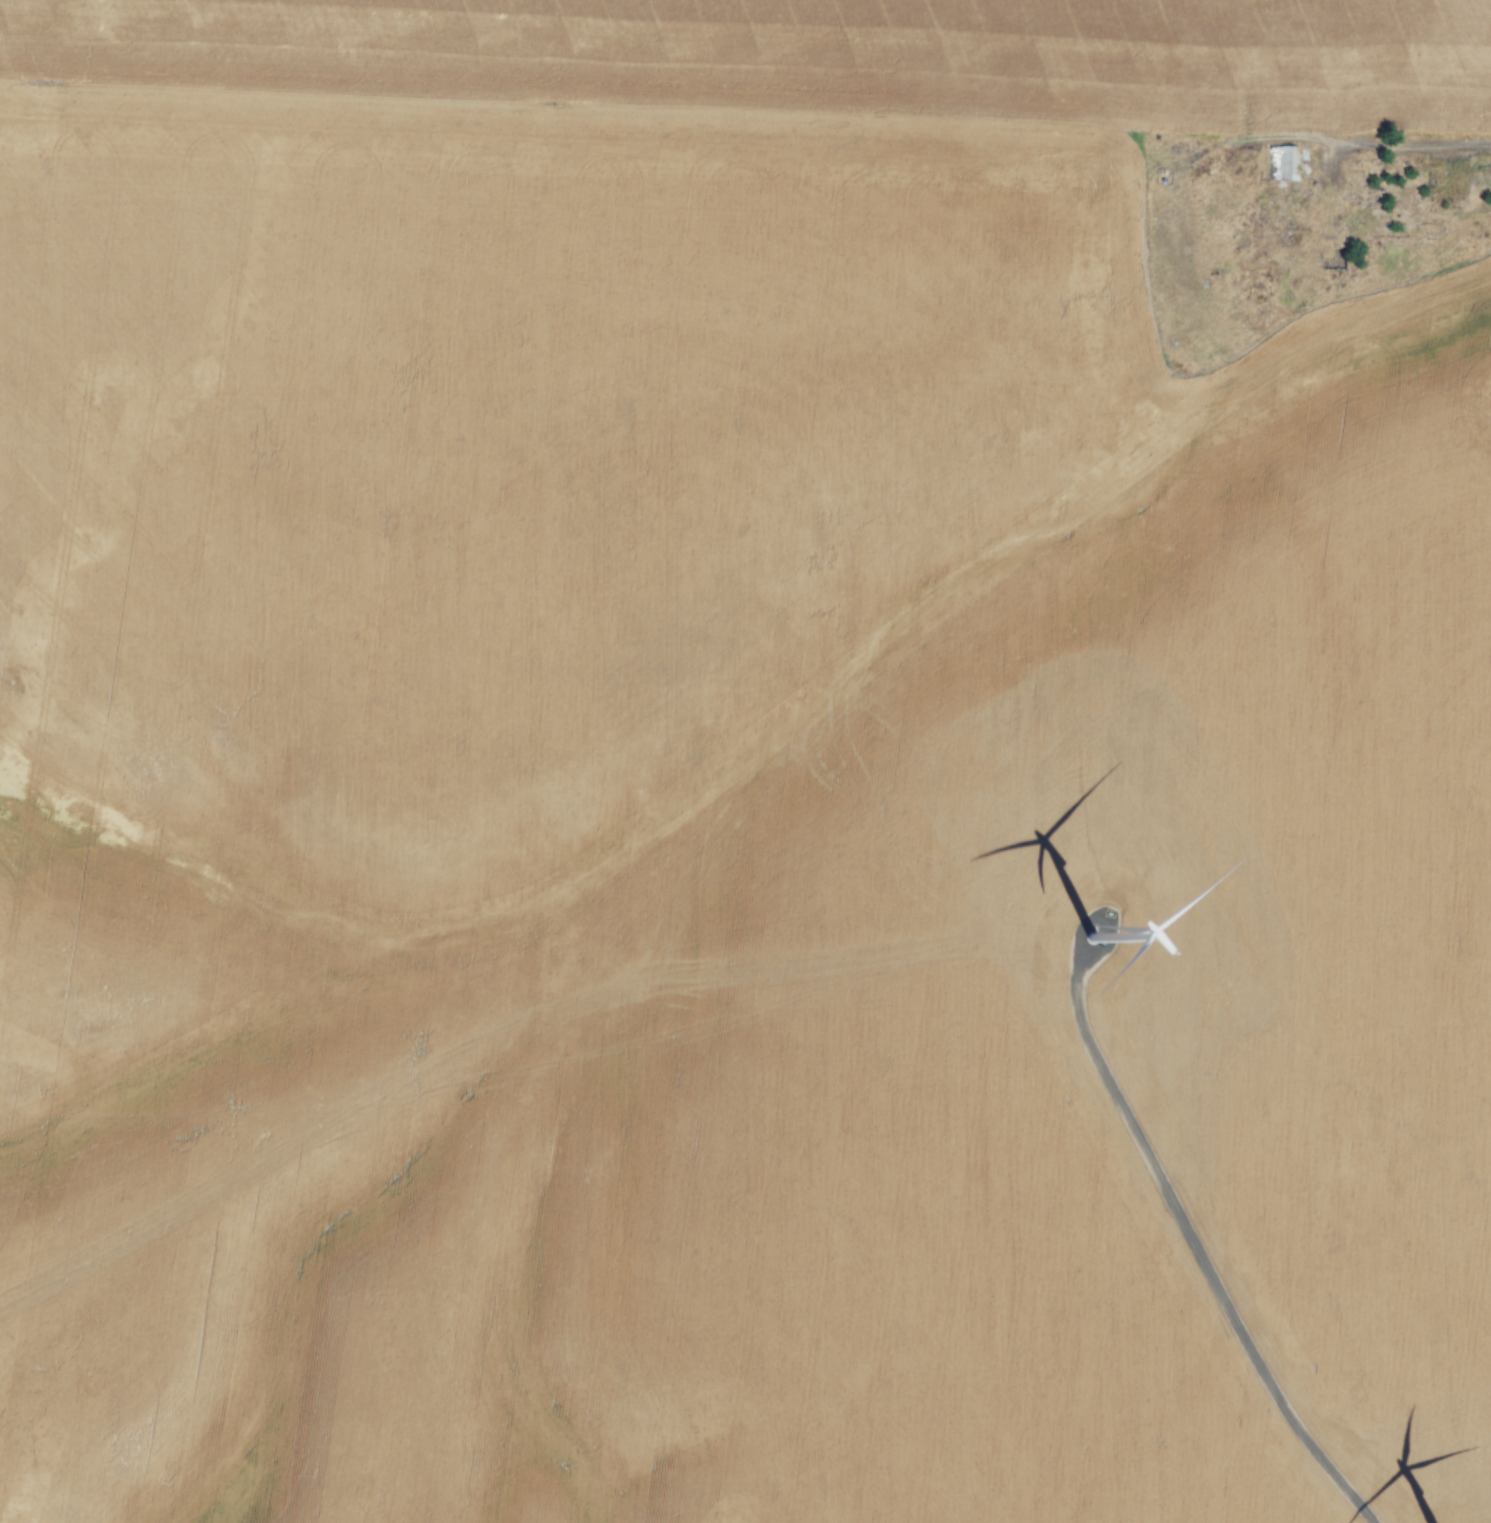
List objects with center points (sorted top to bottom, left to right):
road: (1351, 142)
building: (1281, 161)
wind turbine: (1088, 939)
road: (1191, 1248)

